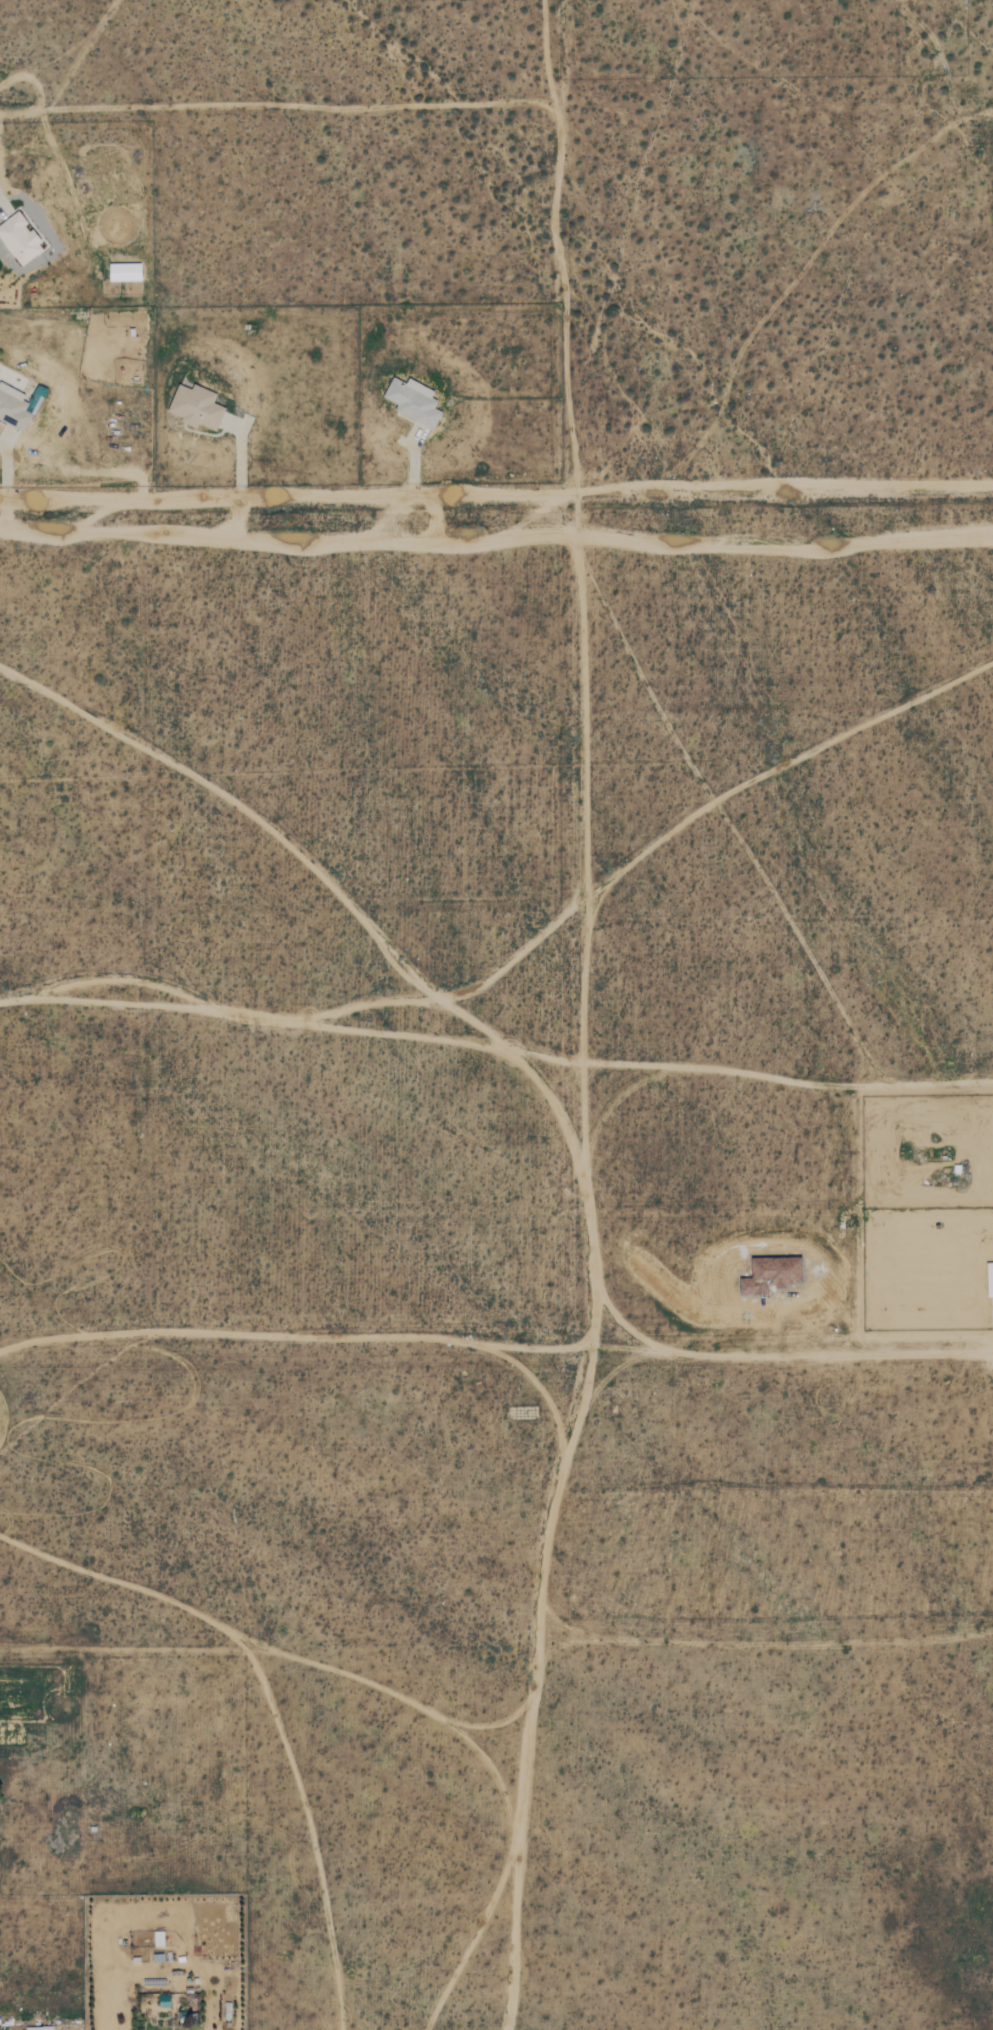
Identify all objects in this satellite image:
road: (1, 209)
building: (19, 238)
building: (124, 271)
building: (413, 401)
building: (195, 406)
building: (13, 408)
road: (239, 460)
road: (411, 466)
road: (5, 470)
road: (496, 500)
road: (933, 1080)
building: (785, 1272)
building: (989, 1278)
road: (820, 1357)
road: (134, 1649)
building: (39, 2028)

